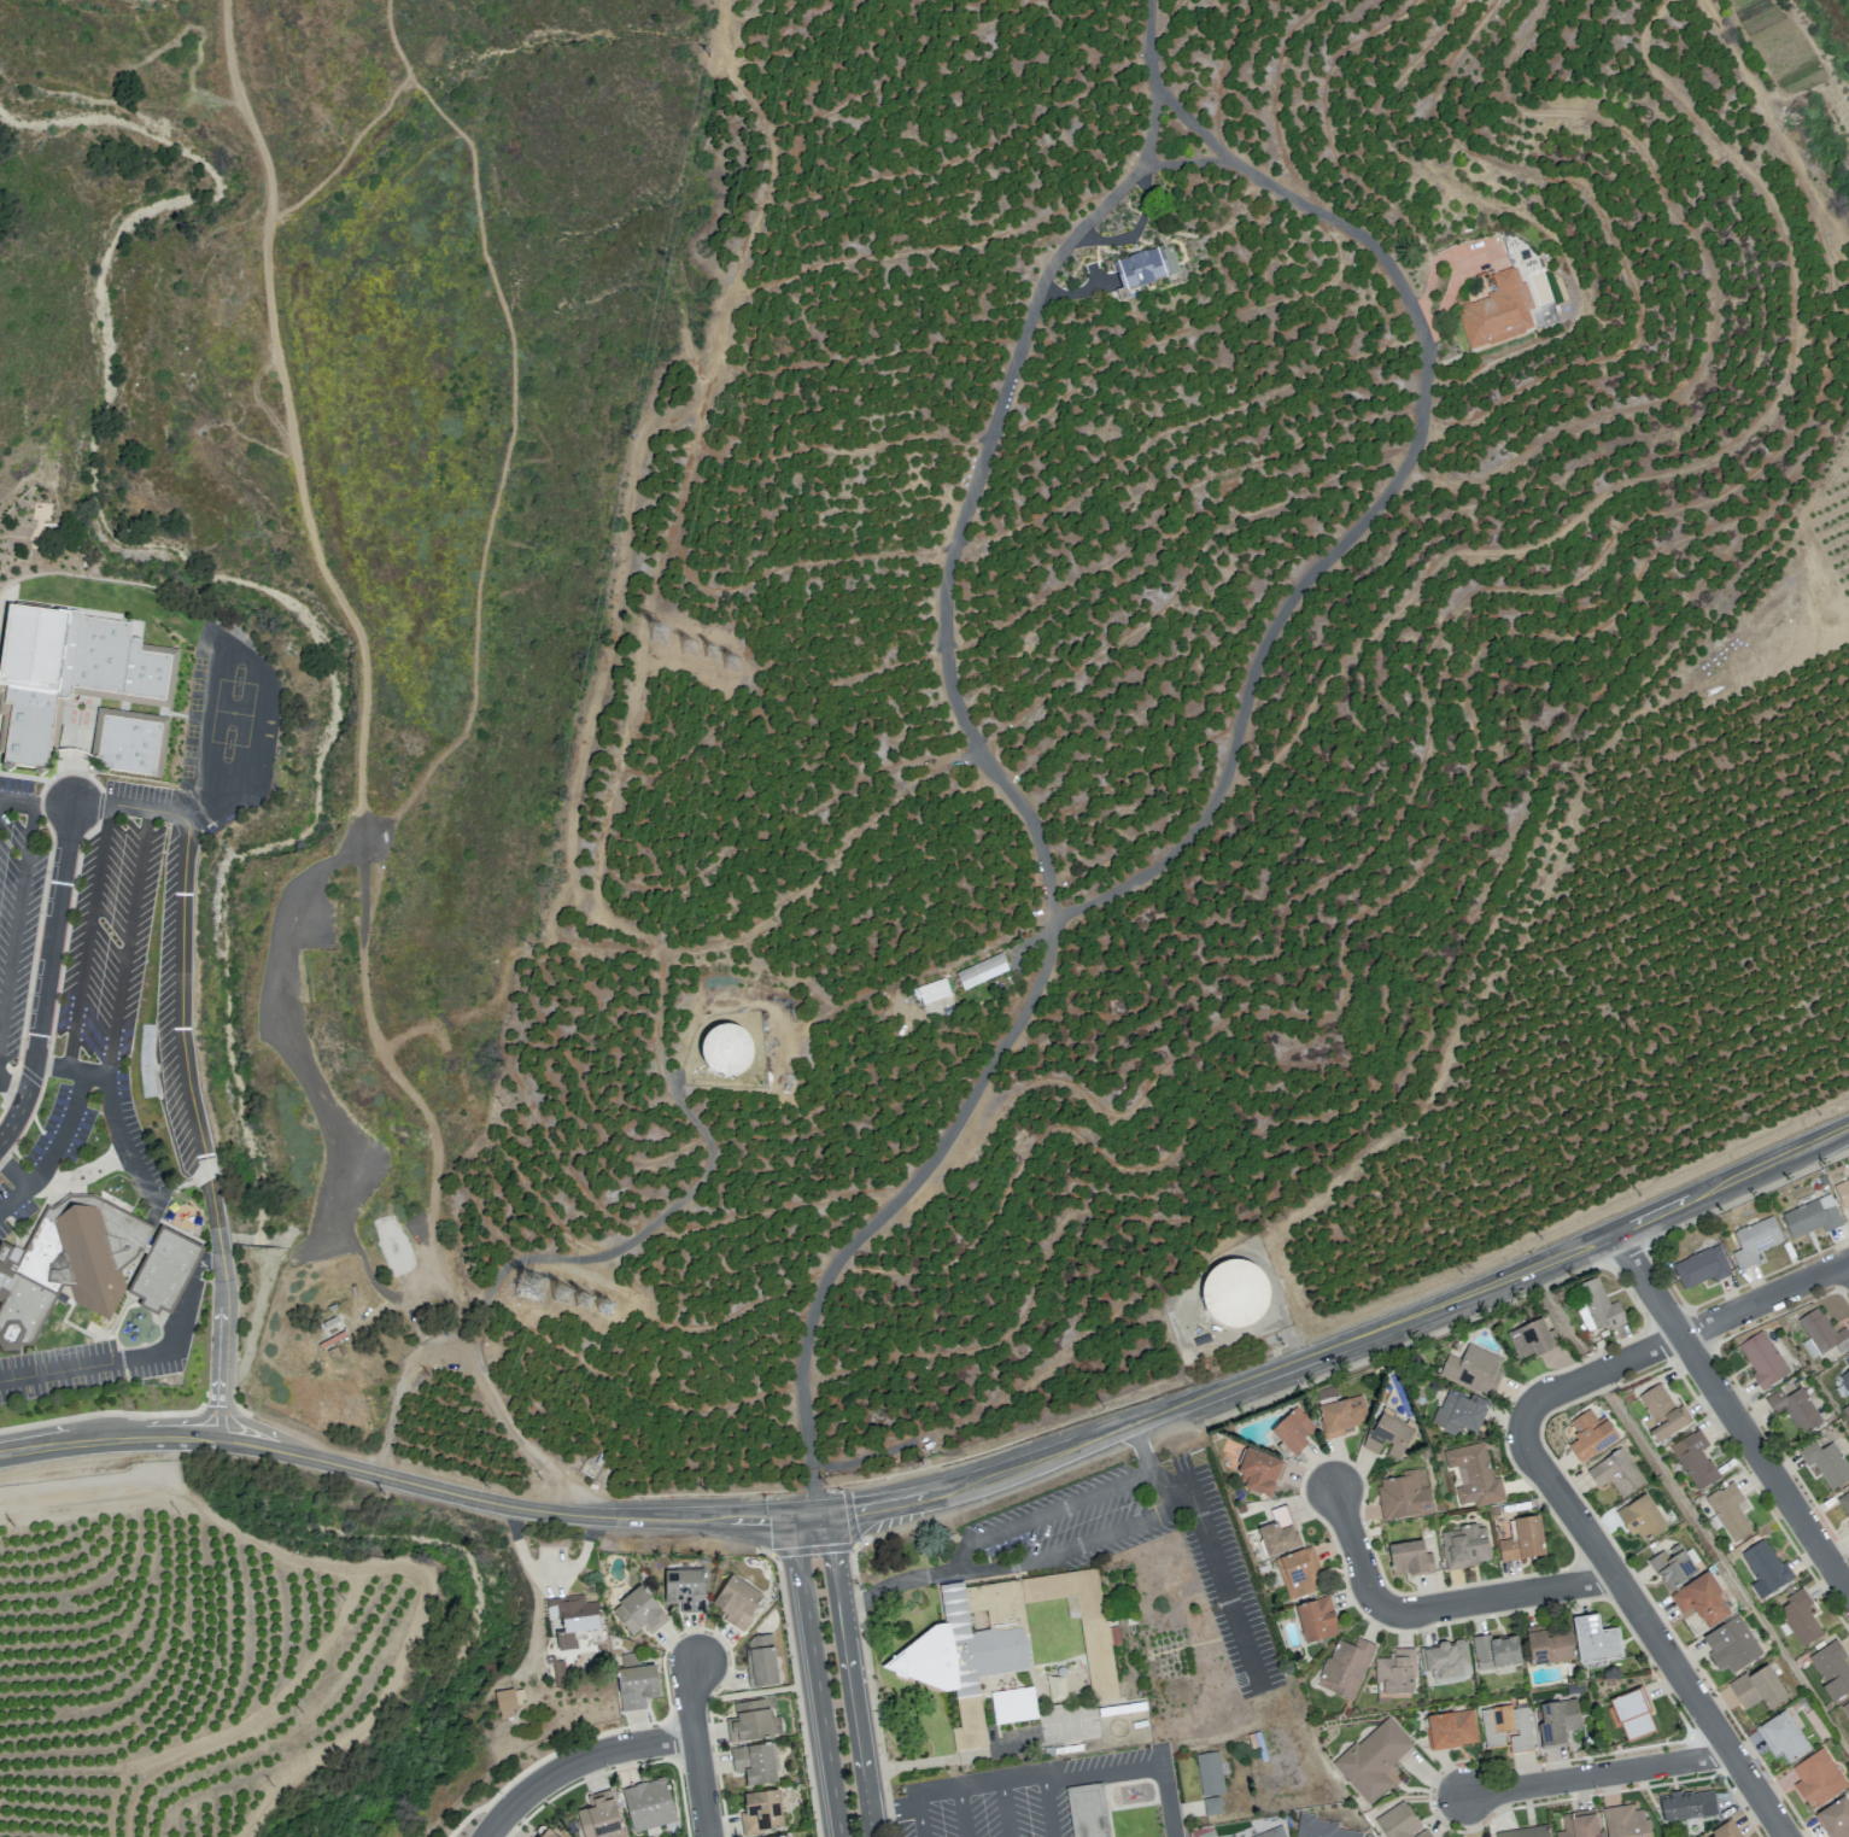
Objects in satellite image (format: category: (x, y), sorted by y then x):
road: (204, 57)
road: (1160, 90)
road: (1151, 127)
building: (1148, 270)
building: (1503, 312)
road: (511, 423)
road: (1415, 440)
road: (396, 447)
power tower: (660, 637)
power tower: (690, 651)
power tower: (712, 655)
power tower: (733, 666)
road: (252, 668)
road: (367, 674)
building: (74, 675)
building: (134, 743)
road: (17, 802)
road: (54, 805)
road: (17, 917)
parking lot: (118, 923)
road: (88, 936)
road: (127, 942)
building: (987, 972)
road: (48, 977)
road: (181, 981)
building: (938, 993)
building: (725, 1049)
storage tank: (733, 1051)
building: (145, 1059)
parking lot: (315, 1066)
road: (117, 1122)
road: (64, 1125)
road: (334, 1130)
building: (1843, 1192)
building: (1810, 1216)
building: (1755, 1241)
road: (1848, 1263)
building: (92, 1266)
building: (1701, 1266)
power tower: (534, 1283)
power tower: (564, 1293)
building: (1235, 1293)
power tower: (586, 1303)
power tower: (607, 1311)
building: (1603, 1315)
road: (224, 1328)
building: (1822, 1333)
road: (1678, 1336)
road: (472, 1346)
building: (1532, 1349)
building: (1762, 1358)
building: (1847, 1359)
parking lot: (90, 1363)
road: (94, 1364)
building: (1474, 1377)
building: (1845, 1380)
building: (1795, 1408)
building: (1660, 1412)
road: (1732, 1414)
road: (221, 1418)
road: (172, 1421)
building: (1461, 1421)
building: (1344, 1424)
road: (262, 1428)
road: (1099, 1435)
building: (1590, 1435)
road: (169, 1438)
building: (1295, 1440)
road: (80, 1444)
building: (1389, 1445)
road: (263, 1449)
road: (21, 1451)
building: (1695, 1459)
building: (1826, 1462)
building: (1616, 1473)
building: (1263, 1481)
building: (1475, 1485)
building: (1844, 1503)
building: (1406, 1505)
traffic signals: (852, 1510)
building: (1728, 1511)
road: (1045, 1513)
building: (1640, 1517)
traffic signals: (768, 1520)
building: (1277, 1538)
road: (1071, 1548)
road: (1357, 1550)
building: (1527, 1550)
traffic signals: (832, 1552)
building: (1465, 1556)
building: (1672, 1566)
building: (1765, 1566)
building: (1411, 1568)
building: (1297, 1573)
road: (1224, 1589)
building: (687, 1591)
road: (1499, 1596)
building: (1699, 1599)
building: (738, 1604)
building: (573, 1614)
building: (638, 1614)
building: (1798, 1617)
building: (1316, 1619)
building: (1081, 1622)
road: (1652, 1632)
building: (969, 1636)
building: (1731, 1645)
building: (1598, 1648)
building: (1494, 1651)
building: (1551, 1657)
building: (1444, 1662)
building: (760, 1665)
building: (1346, 1666)
building: (1831, 1668)
building: (1394, 1672)
road: (849, 1675)
road: (817, 1677)
building: (1757, 1687)
road: (742, 1693)
road: (796, 1695)
building: (639, 1696)
road: (690, 1697)
building: (505, 1702)
building: (1013, 1704)
building: (1845, 1709)
building: (1632, 1725)
building: (754, 1726)
building: (1560, 1732)
building: (1781, 1736)
building: (1508, 1737)
building: (1451, 1738)
road: (560, 1750)
building: (1373, 1759)
road: (575, 1760)
building: (759, 1763)
road: (1140, 1765)
park: (514, 1775)
road: (1599, 1775)
road: (990, 1778)
building: (1818, 1778)
road: (702, 1785)
building: (1212, 1791)
road: (896, 1812)
building: (650, 1813)
building: (766, 1814)
building: (1088, 1814)
building: (1690, 1815)
building: (1836, 1819)
building: (602, 1823)
building: (1626, 1826)
building: (1397, 1827)
building: (1581, 1830)
building: (1313, 1831)
building: (546, 1833)
building: (1728, 1835)
building: (784, 1836)
building: (790, 1836)
building: (1233, 1836)
building: (1278, 1836)
building: (1545, 1836)

